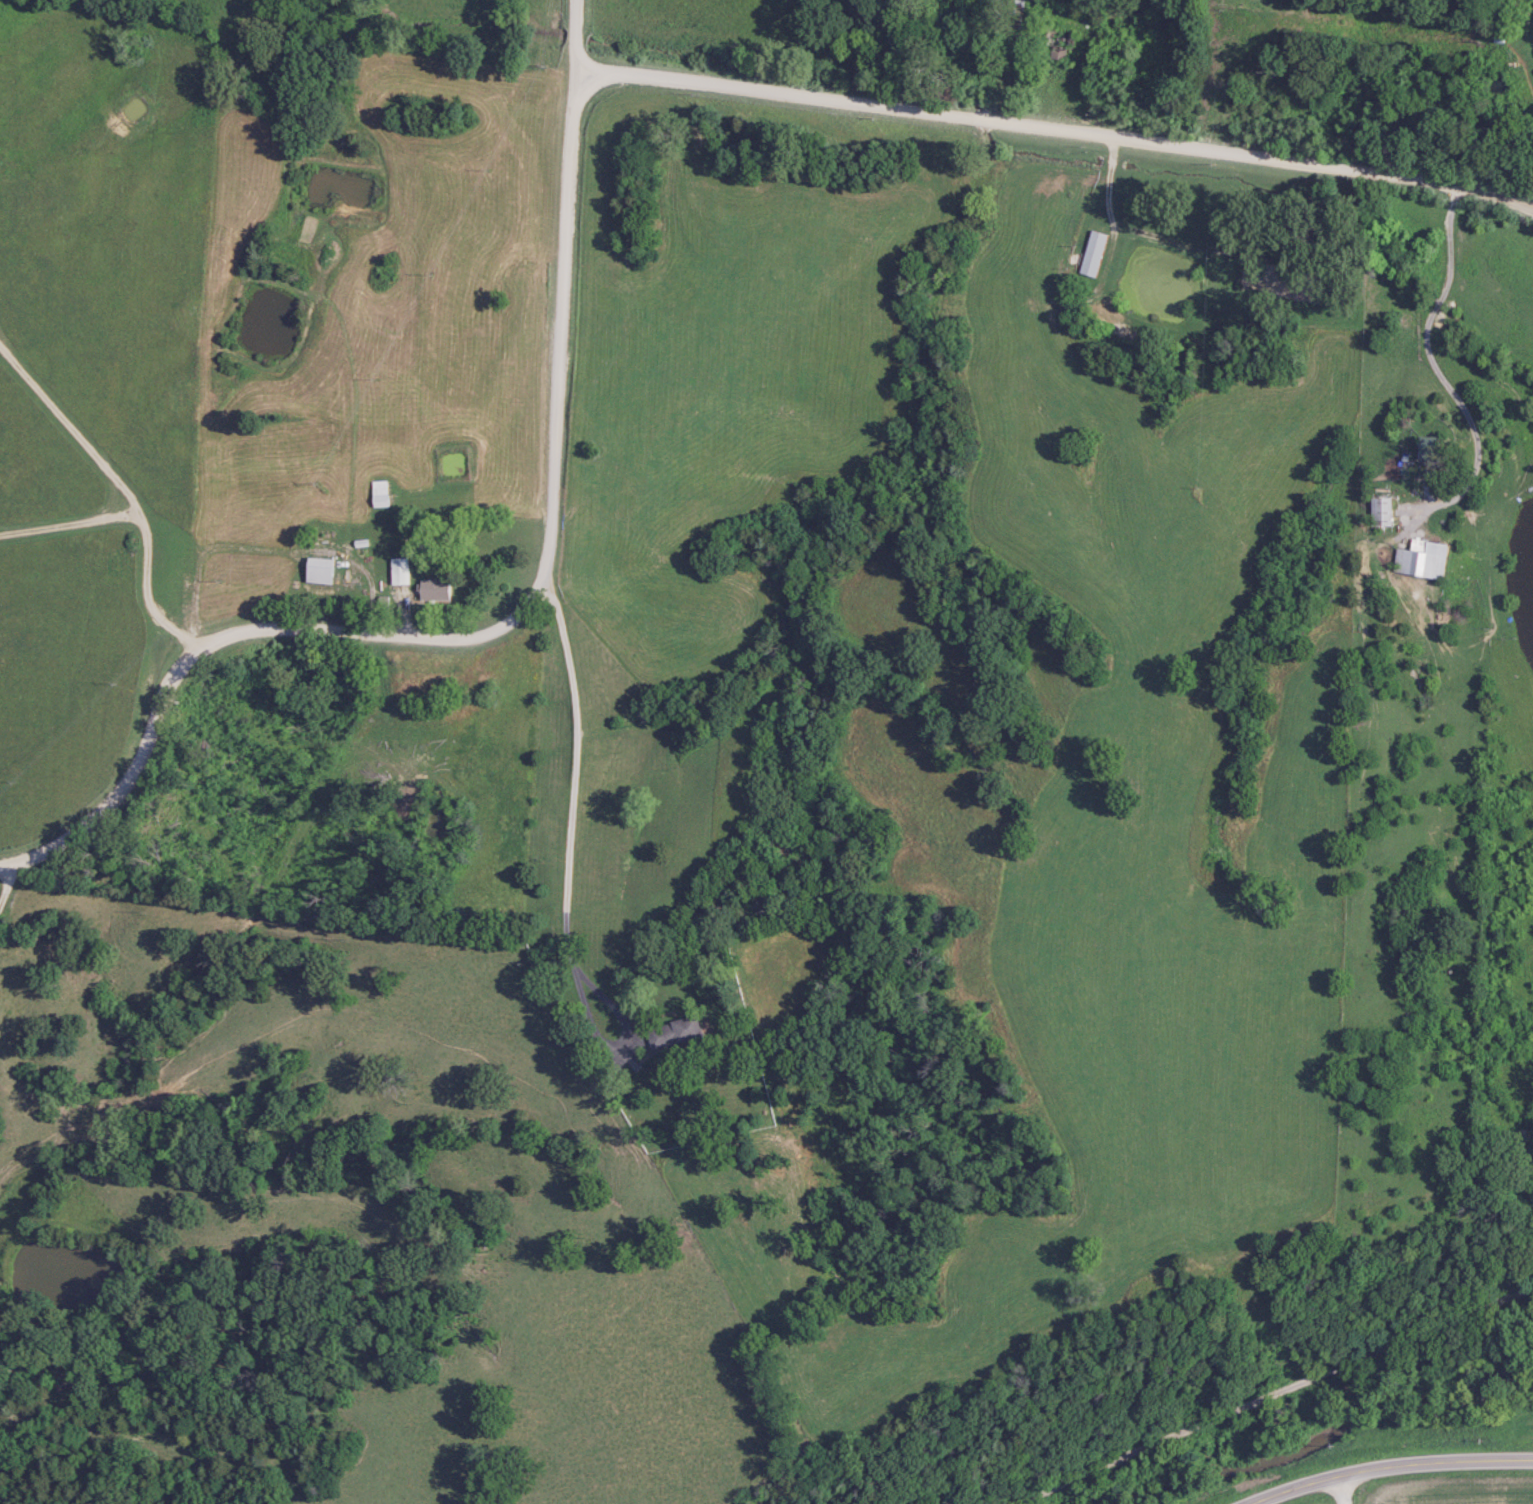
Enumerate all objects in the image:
building: (1012, 7)
road: (580, 38)
building: (1056, 42)
road: (1057, 128)
building: (1090, 253)
road: (1440, 368)
building: (1420, 452)
building: (384, 494)
building: (1377, 511)
building: (1417, 559)
building: (323, 571)
building: (402, 571)
building: (440, 590)
road: (481, 632)
road: (579, 809)
building: (681, 1033)
road: (1278, 1391)
road: (1391, 1466)
road: (1346, 1489)

